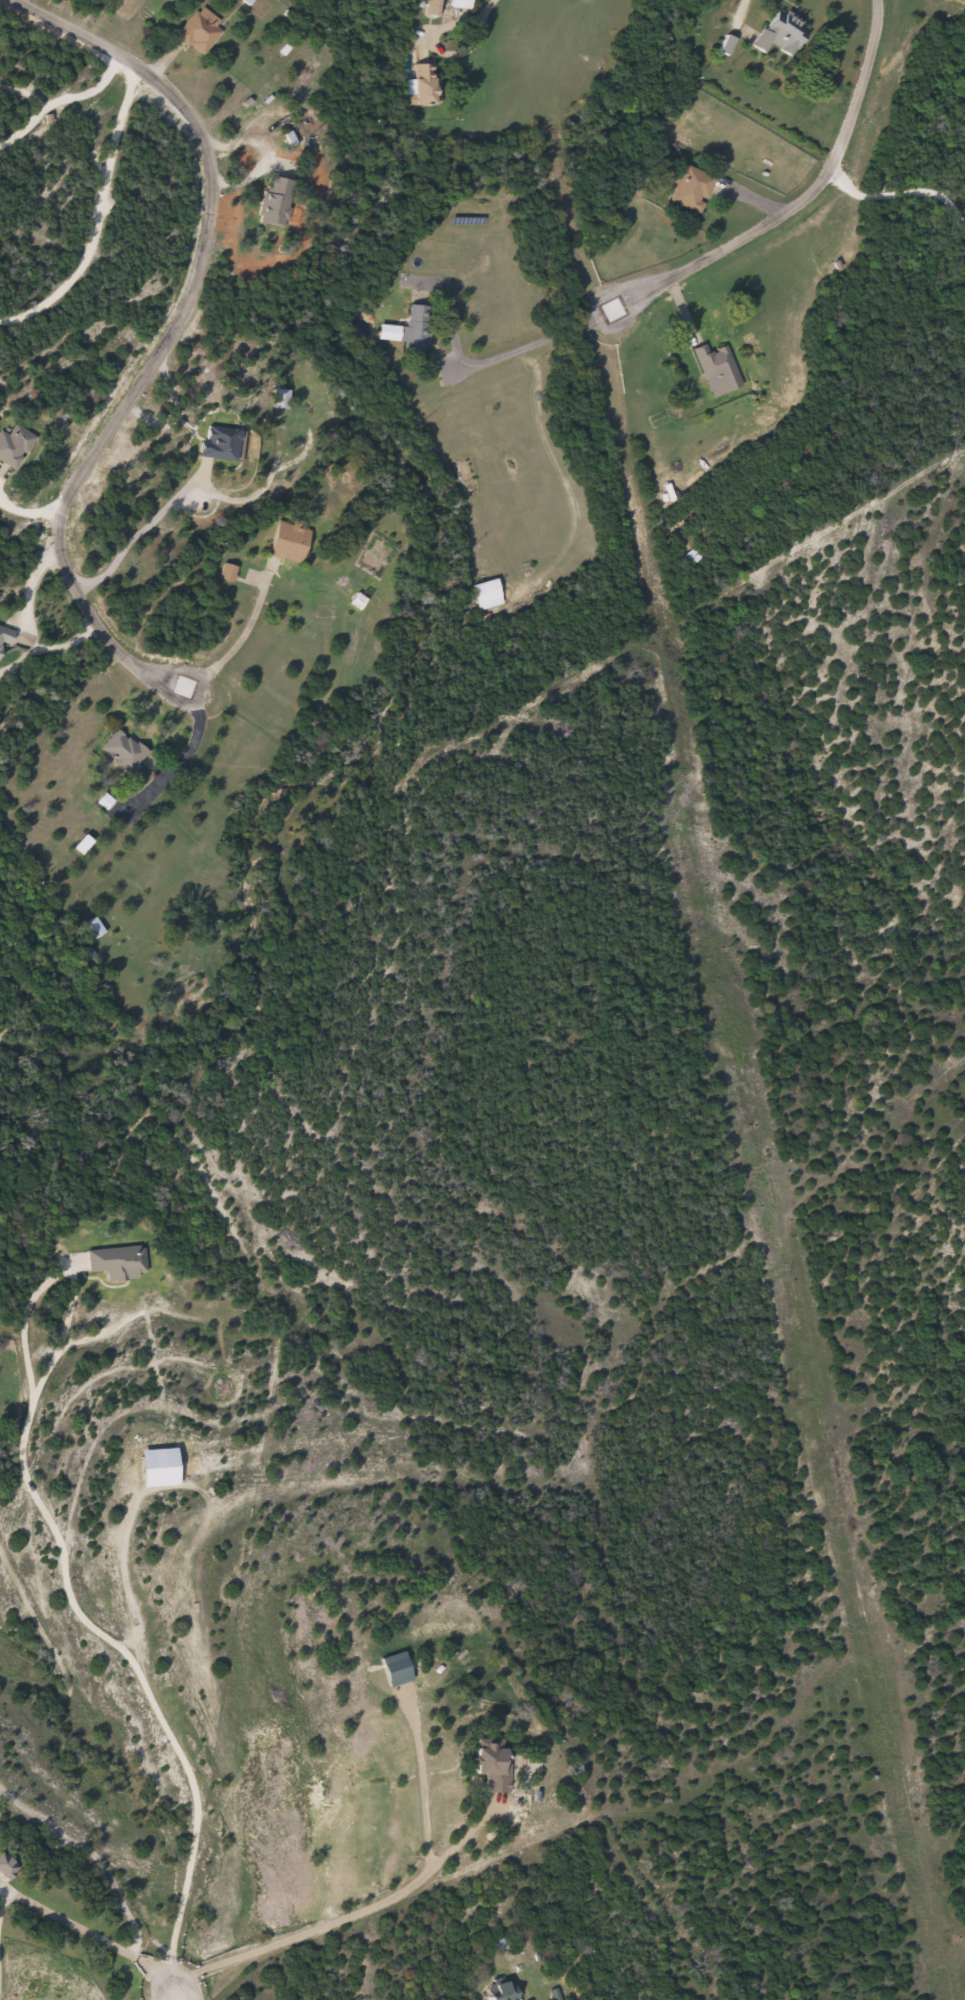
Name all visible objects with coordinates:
building: (464, 3)
building: (437, 6)
road: (555, 16)
building: (202, 31)
building: (785, 34)
building: (729, 44)
road: (56, 73)
building: (429, 84)
road: (906, 182)
building: (694, 187)
building: (281, 202)
road: (809, 203)
road: (93, 210)
building: (414, 330)
road: (532, 332)
road: (167, 336)
building: (720, 369)
building: (286, 399)
building: (223, 443)
building: (16, 445)
building: (293, 542)
building: (696, 557)
building: (491, 594)
building: (5, 642)
building: (128, 751)
building: (97, 928)
road: (204, 1172)
road: (63, 1565)
road: (548, 1742)
building: (495, 1762)
road: (90, 1850)
building: (7, 1866)
road: (397, 1905)
road: (91, 1931)
building: (505, 1992)
road: (174, 1995)

